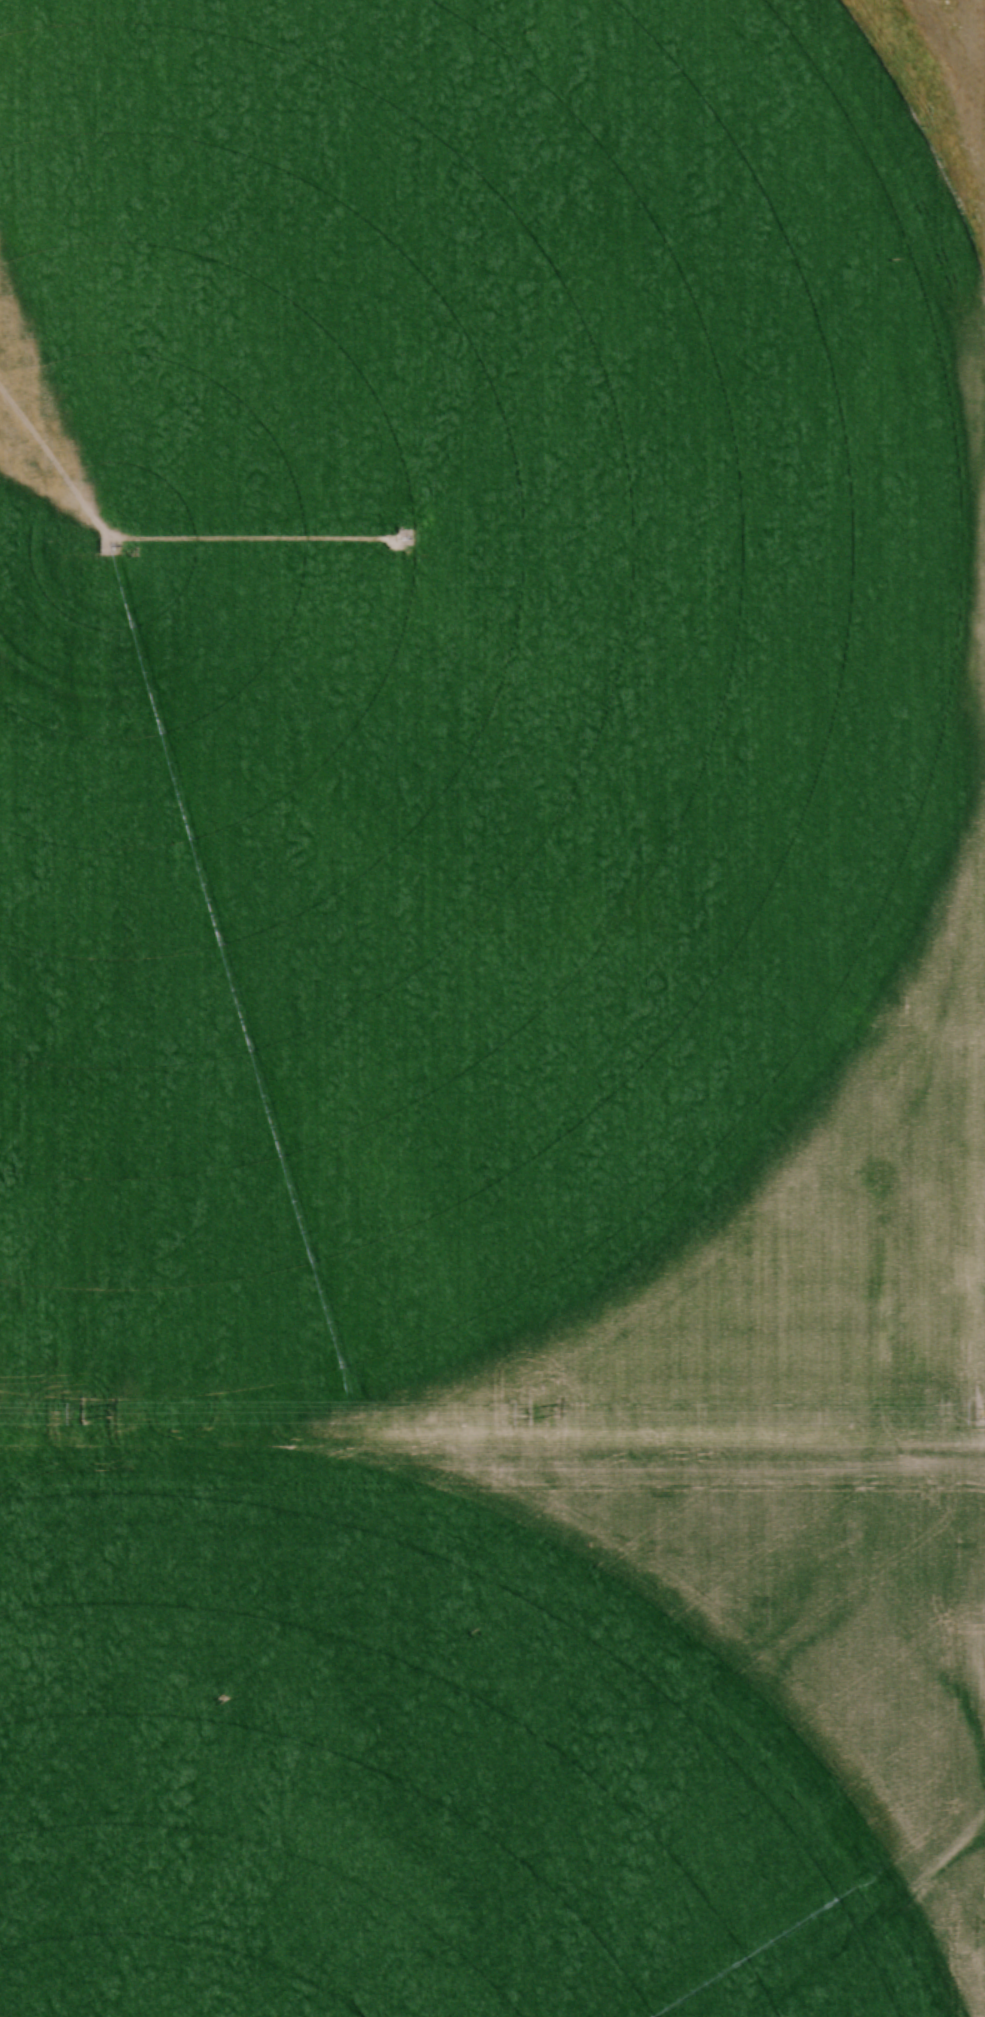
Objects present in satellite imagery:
power tower: (95, 1412)
power tower: (982, 1413)
power tower: (534, 1415)

